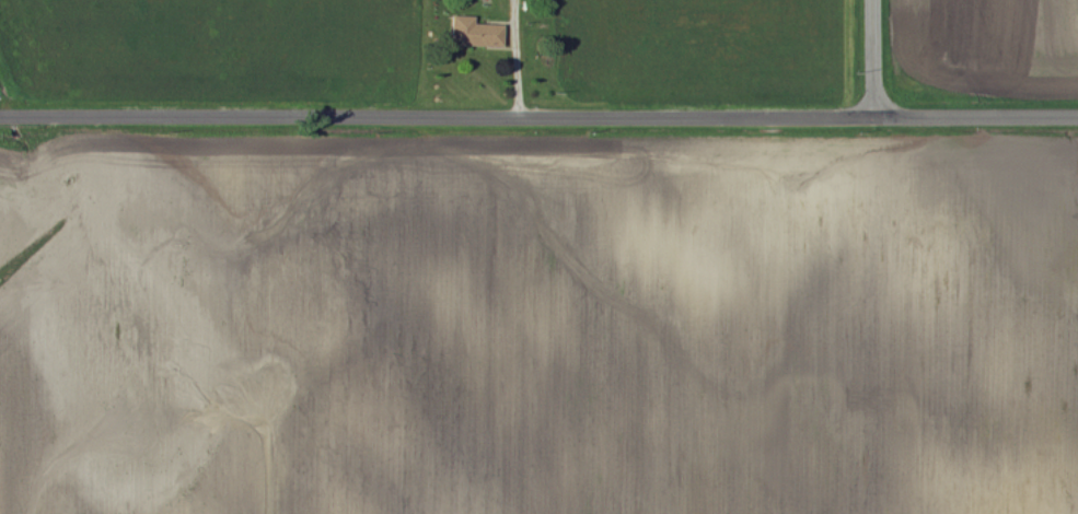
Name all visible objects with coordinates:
building: (474, 34)
road: (870, 54)
road: (521, 63)
road: (538, 107)

